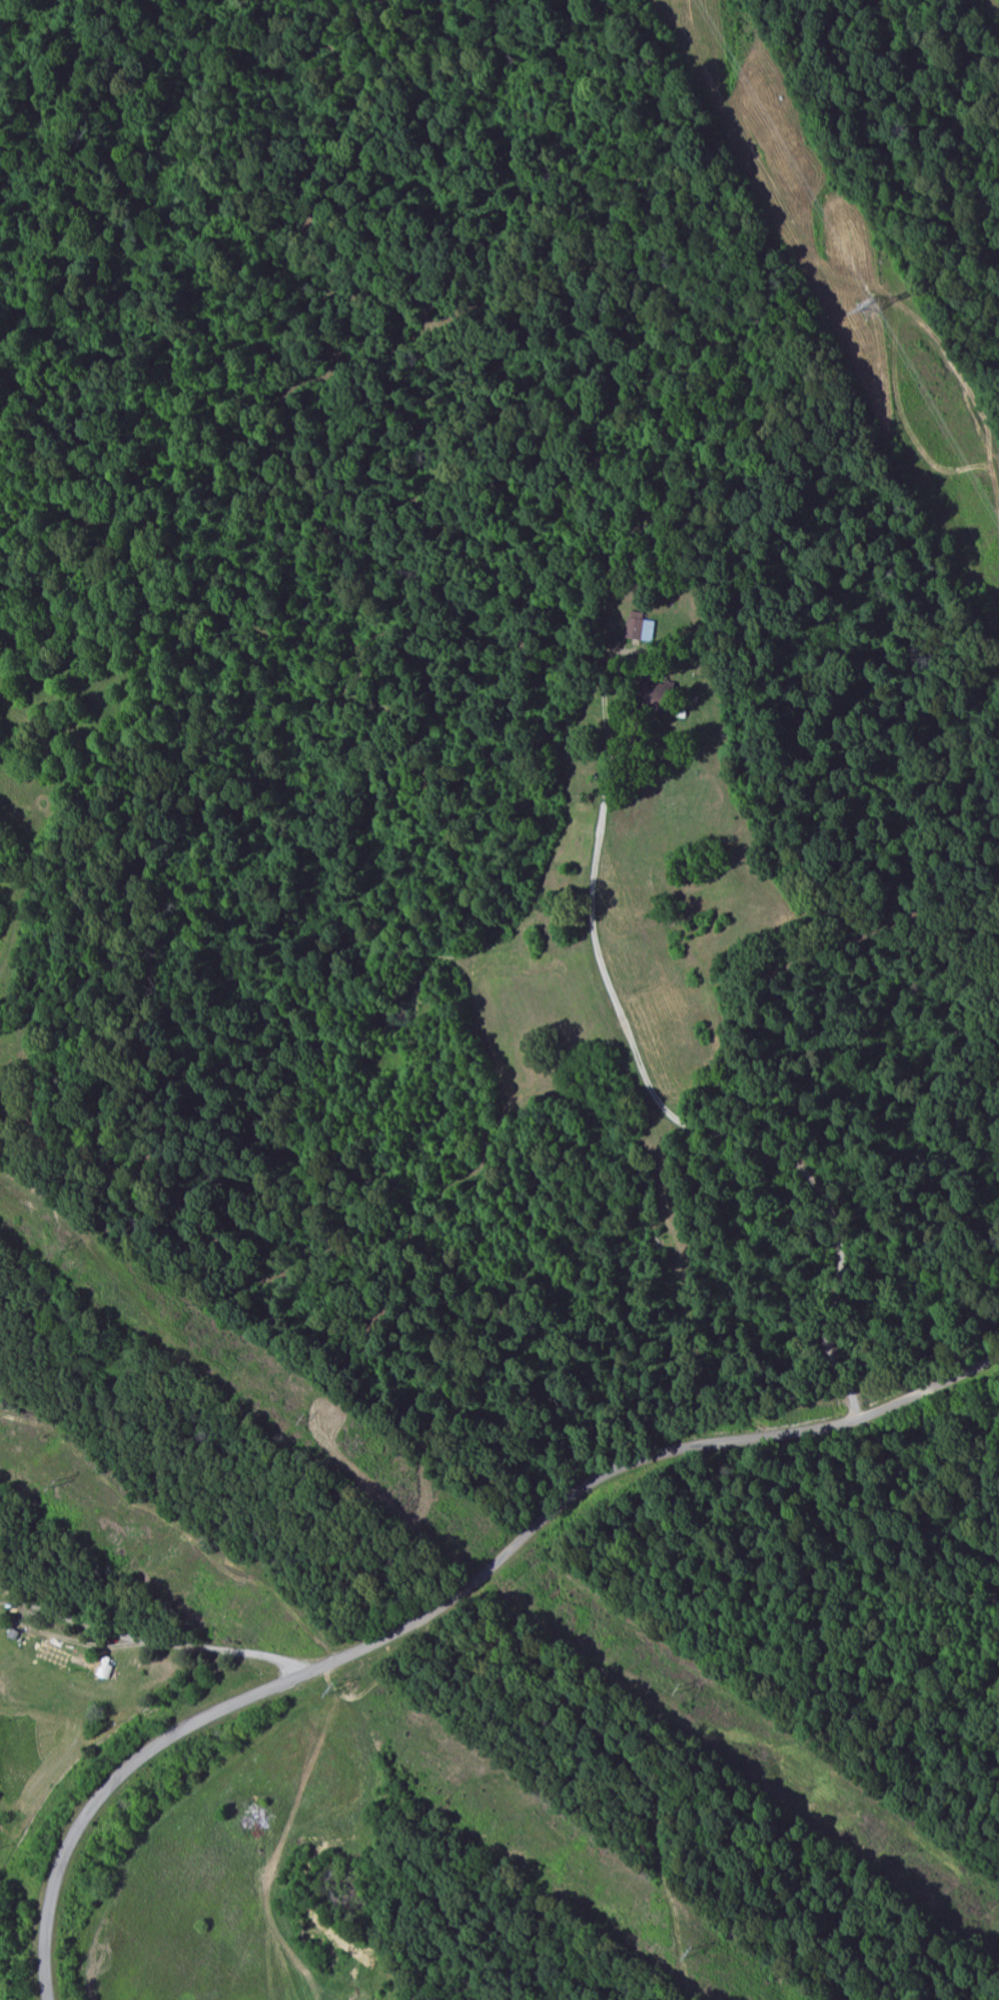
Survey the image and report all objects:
power tower: (869, 310)
building: (636, 629)
building: (652, 695)
road: (682, 1064)
road: (128, 1599)
road: (448, 1601)
road: (334, 1623)
building: (254, 1816)

